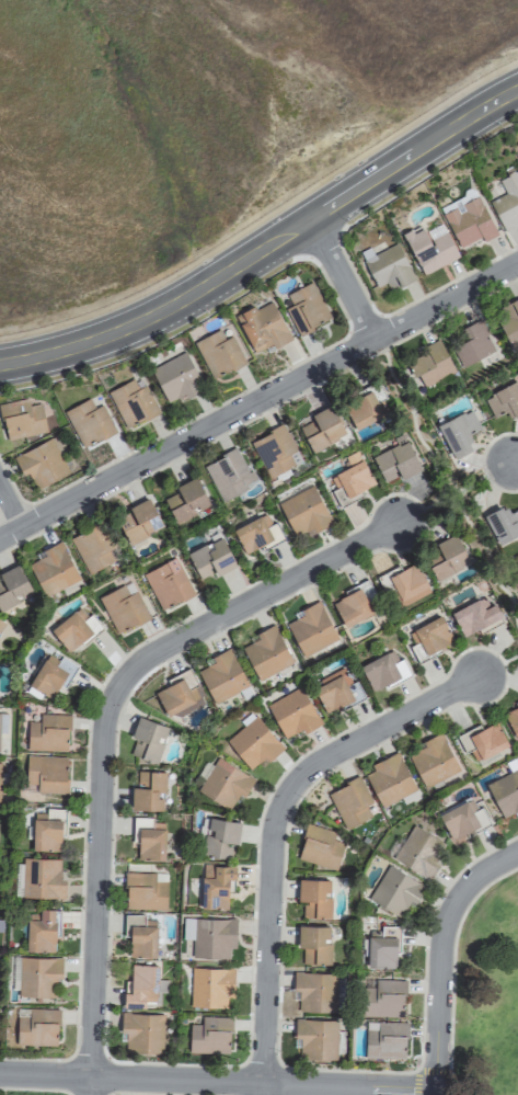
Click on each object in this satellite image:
building: (507, 202)
building: (468, 221)
road: (266, 248)
building: (430, 248)
building: (388, 267)
road: (344, 278)
building: (306, 308)
building: (509, 321)
building: (262, 327)
building: (473, 343)
building: (218, 353)
building: (431, 363)
building: (176, 378)
building: (504, 400)
road: (260, 401)
building: (131, 403)
building: (362, 410)
building: (21, 419)
building: (88, 422)
building: (322, 429)
building: (458, 433)
building: (275, 452)
road: (517, 458)
building: (42, 461)
building: (395, 461)
building: (228, 475)
building: (353, 475)
park: (447, 483)
road: (441, 486)
road: (457, 487)
building: (186, 500)
road: (9, 507)
building: (303, 512)
building: (138, 521)
building: (503, 523)
building: (257, 534)
building: (94, 547)
building: (447, 556)
building: (210, 558)
building: (53, 569)
building: (405, 583)
building: (168, 584)
building: (12, 586)
building: (123, 607)
building: (352, 607)
building: (474, 616)
building: (1, 625)
building: (74, 628)
building: (311, 629)
building: (430, 636)
building: (266, 652)
park: (510, 654)
road: (497, 663)
building: (382, 671)
building: (51, 676)
building: (222, 676)
building: (333, 692)
building: (174, 696)
building: (292, 712)
road: (104, 714)
building: (513, 720)
building: (2, 722)
building: (48, 733)
building: (147, 739)
building: (483, 740)
building: (253, 742)
building: (431, 761)
building: (0, 762)
building: (46, 774)
building: (389, 779)
building: (223, 783)
building: (150, 789)
building: (506, 790)
building: (350, 802)
building: (461, 820)
road: (270, 822)
building: (47, 830)
building: (217, 836)
building: (149, 839)
building: (320, 846)
building: (418, 852)
building: (42, 878)
building: (145, 890)
building: (394, 890)
building: (314, 898)
building: (42, 932)
building: (140, 935)
building: (209, 936)
building: (314, 944)
building: (382, 947)
road: (439, 955)
building: (38, 976)
building: (141, 985)
building: (211, 986)
building: (314, 991)
park: (486, 994)
building: (382, 997)
building: (37, 1027)
building: (141, 1033)
building: (210, 1035)
building: (315, 1038)
building: (384, 1039)
road: (216, 1081)
road: (88, 1086)
road: (261, 1088)

